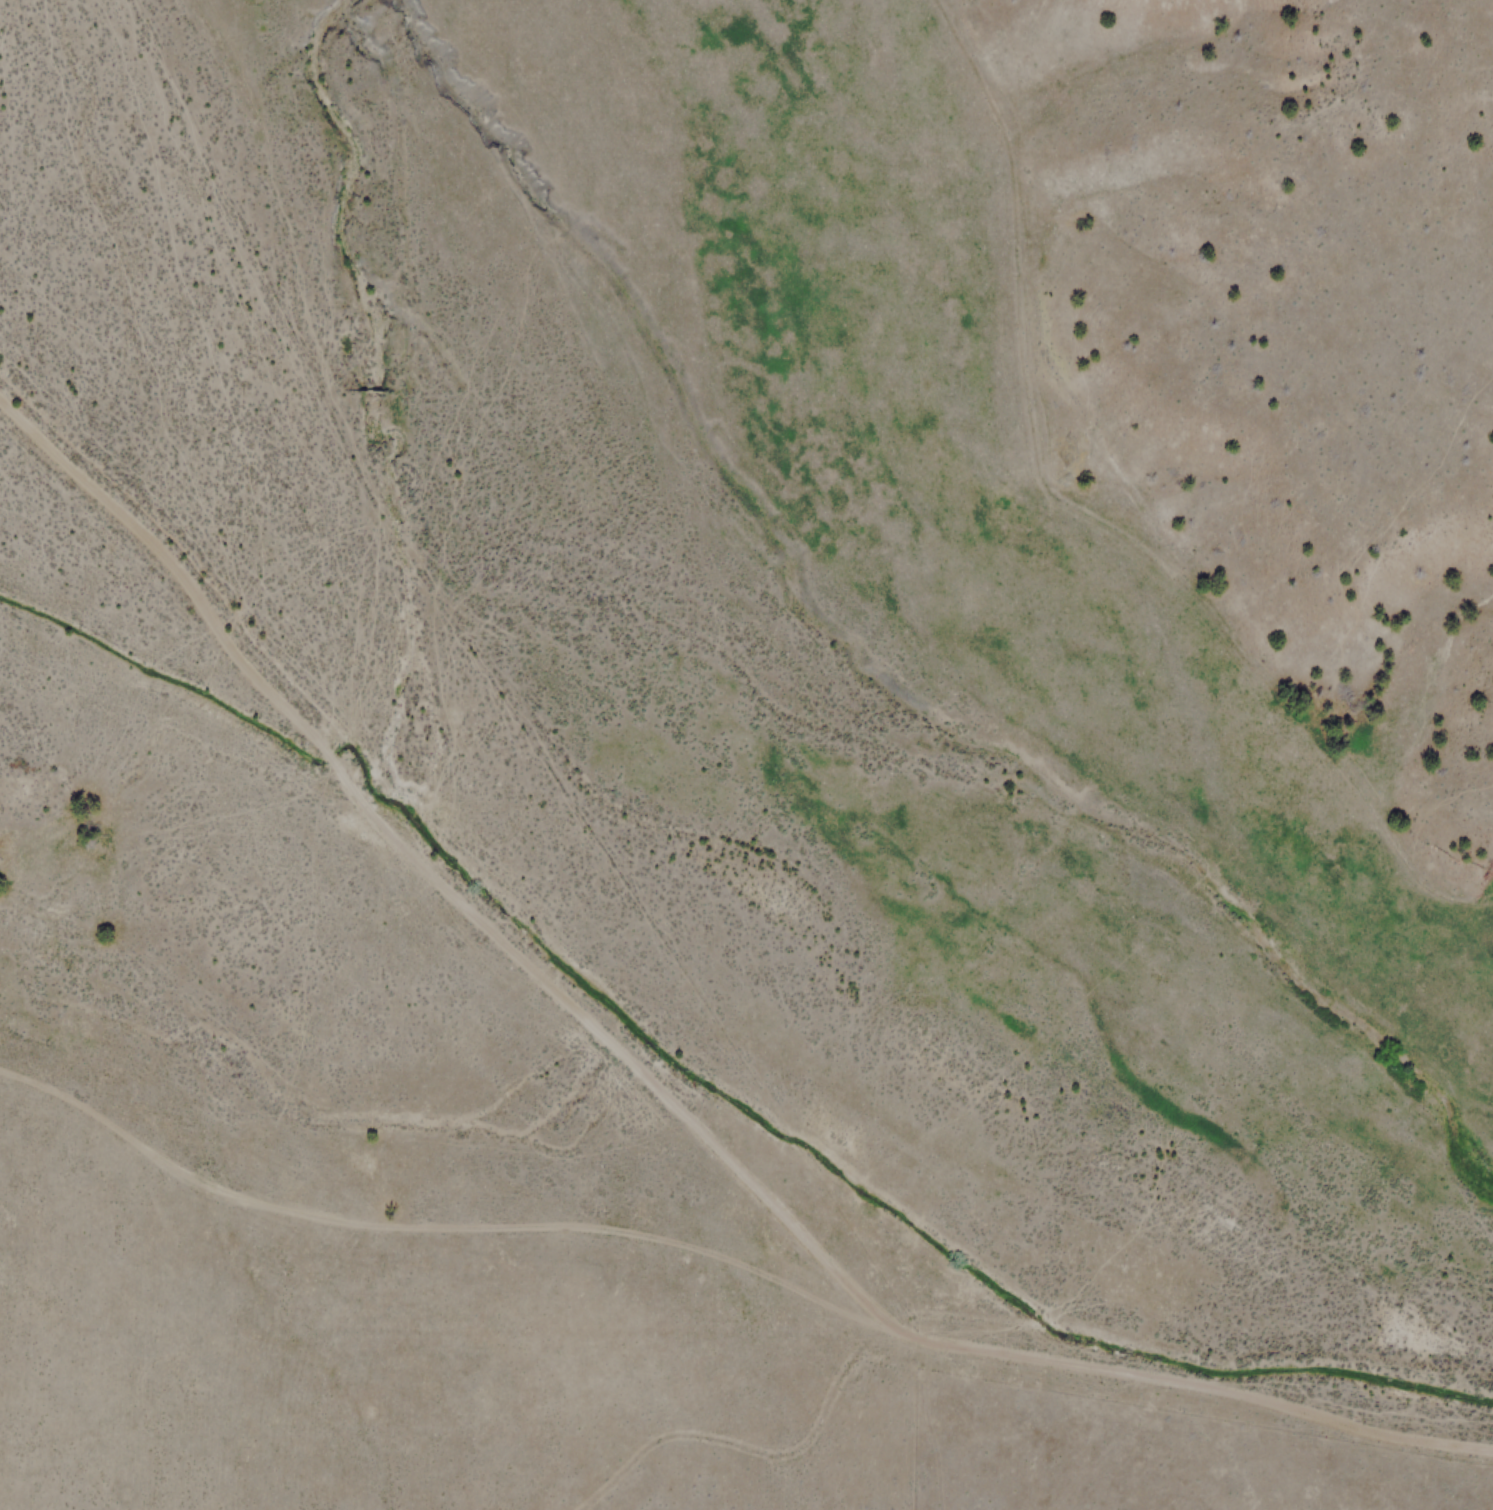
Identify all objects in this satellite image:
road: (740, 1245)

